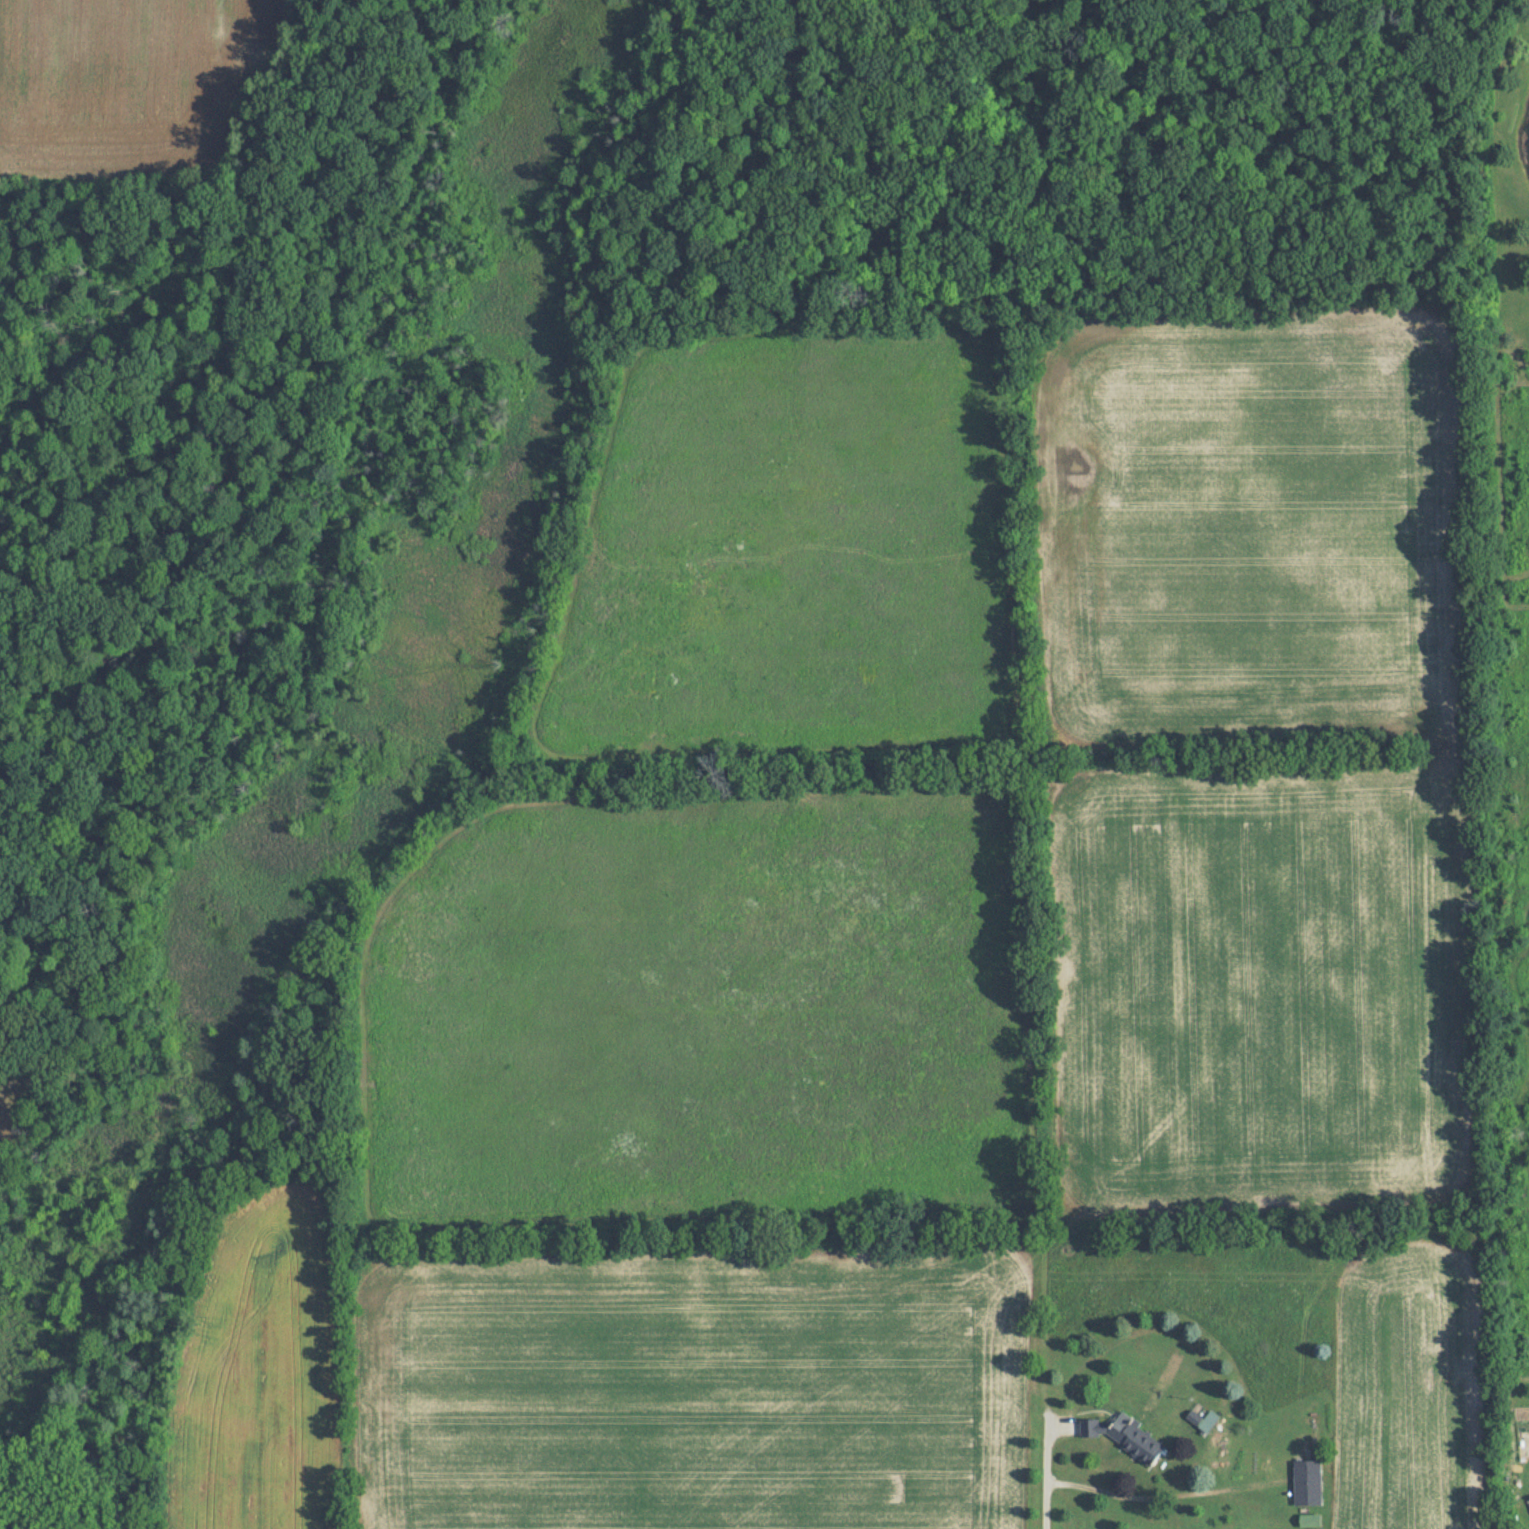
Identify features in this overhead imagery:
building: (1125, 1436)
road: (1045, 1480)
building: (1307, 1482)

